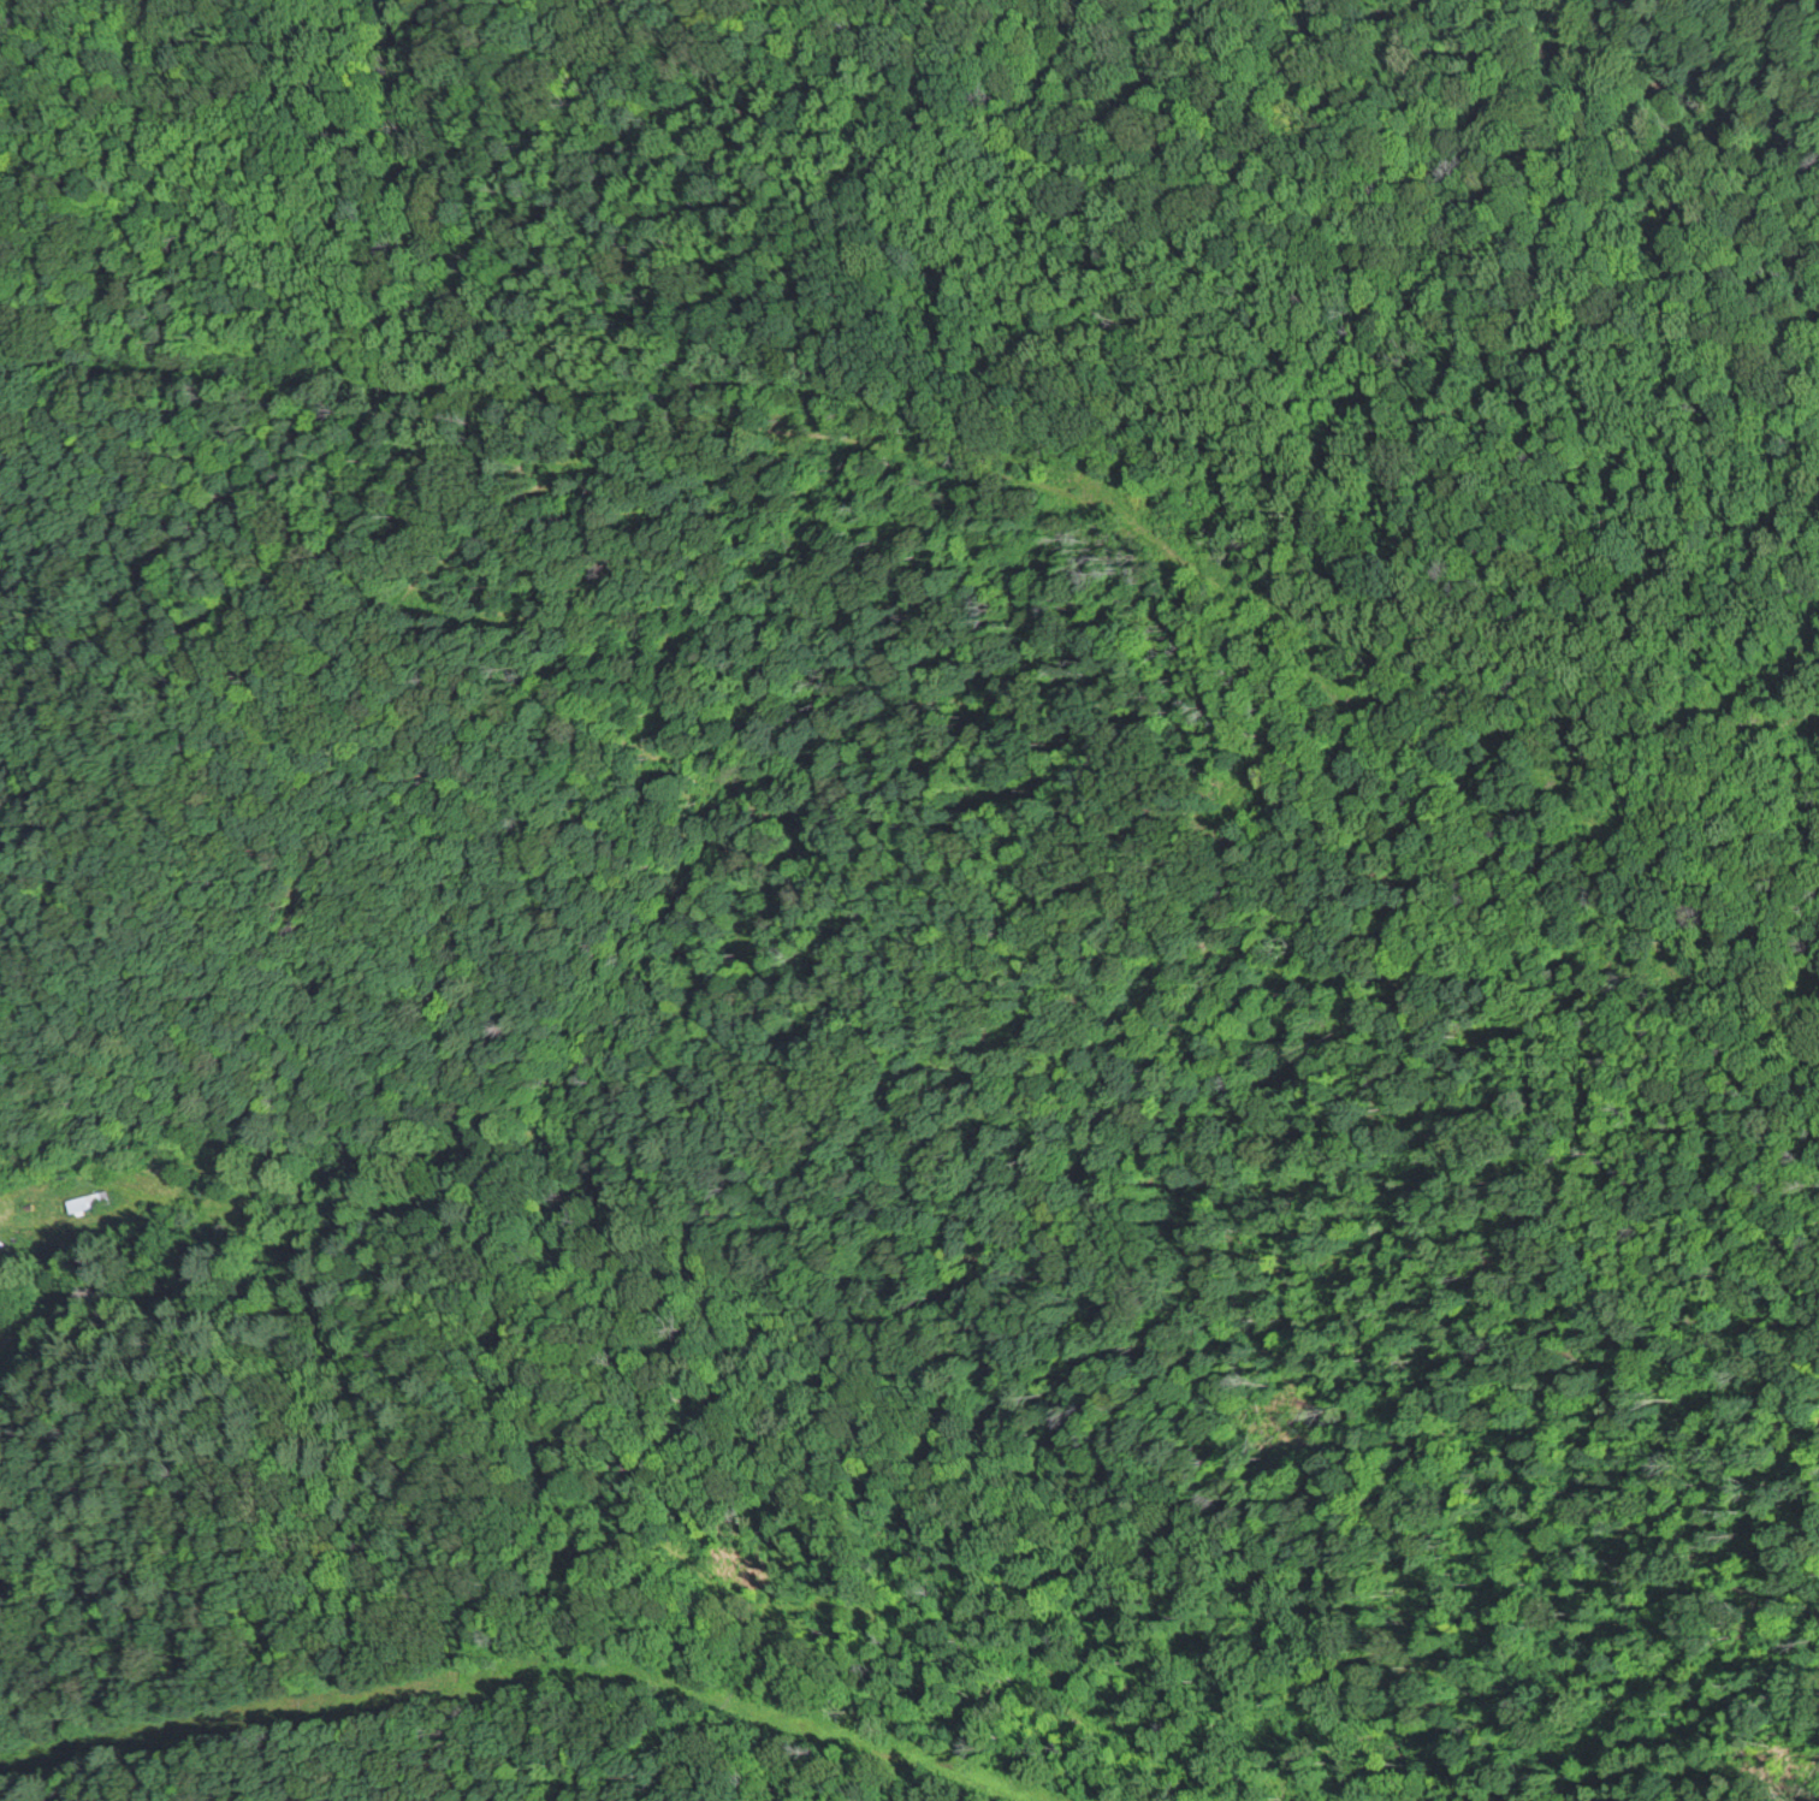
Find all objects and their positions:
building: (88, 1201)

